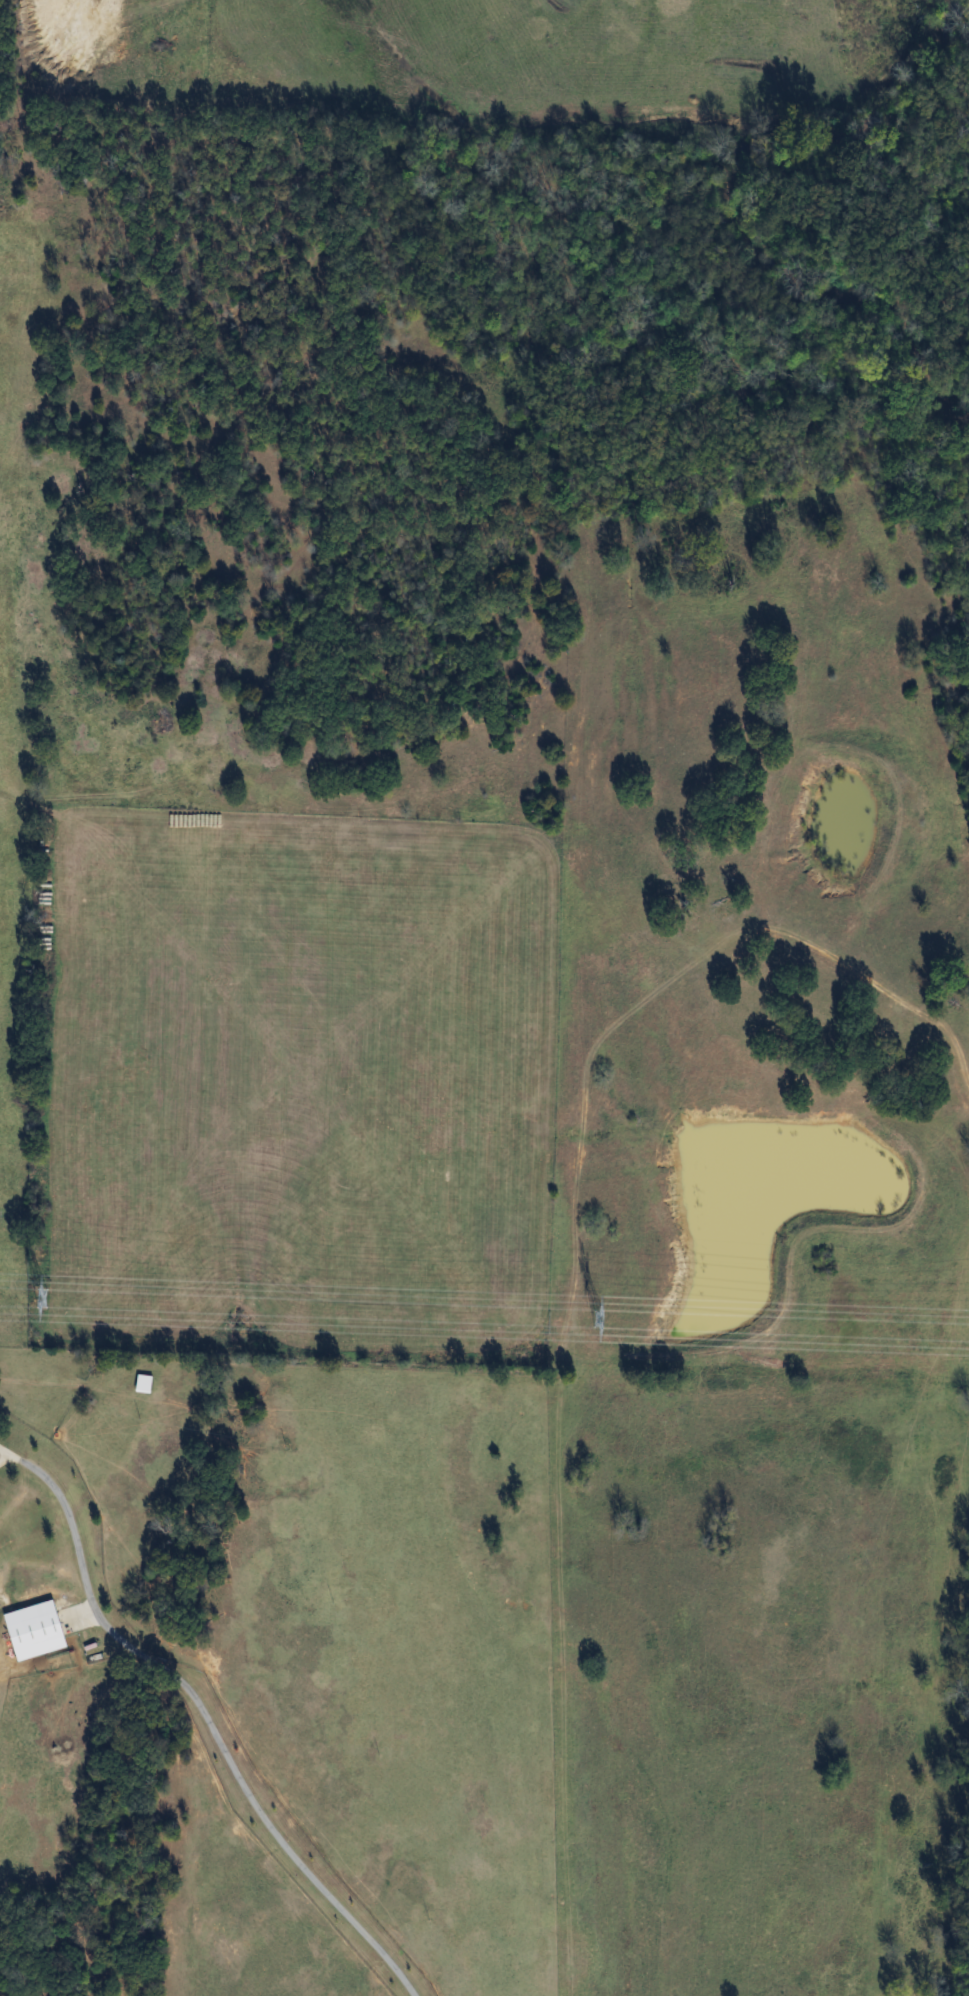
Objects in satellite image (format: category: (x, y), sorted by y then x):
road: (904, 999)
power tower: (41, 1299)
power tower: (597, 1319)
road: (7, 1451)
road: (8, 1458)
road: (212, 1722)

